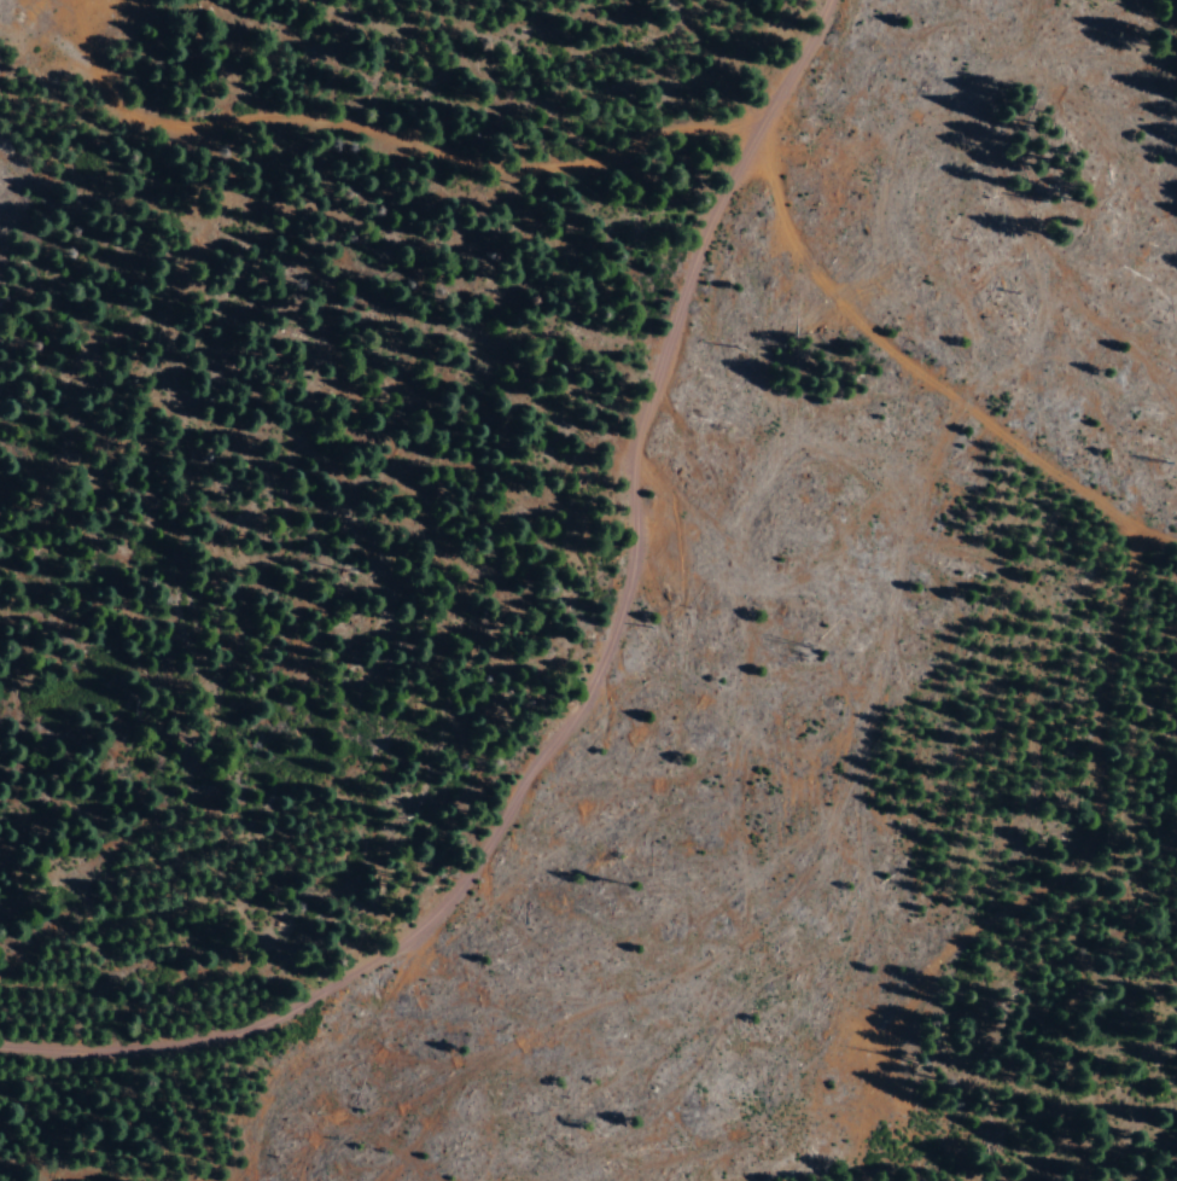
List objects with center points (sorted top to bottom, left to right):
road: (670, 150)
road: (604, 699)

